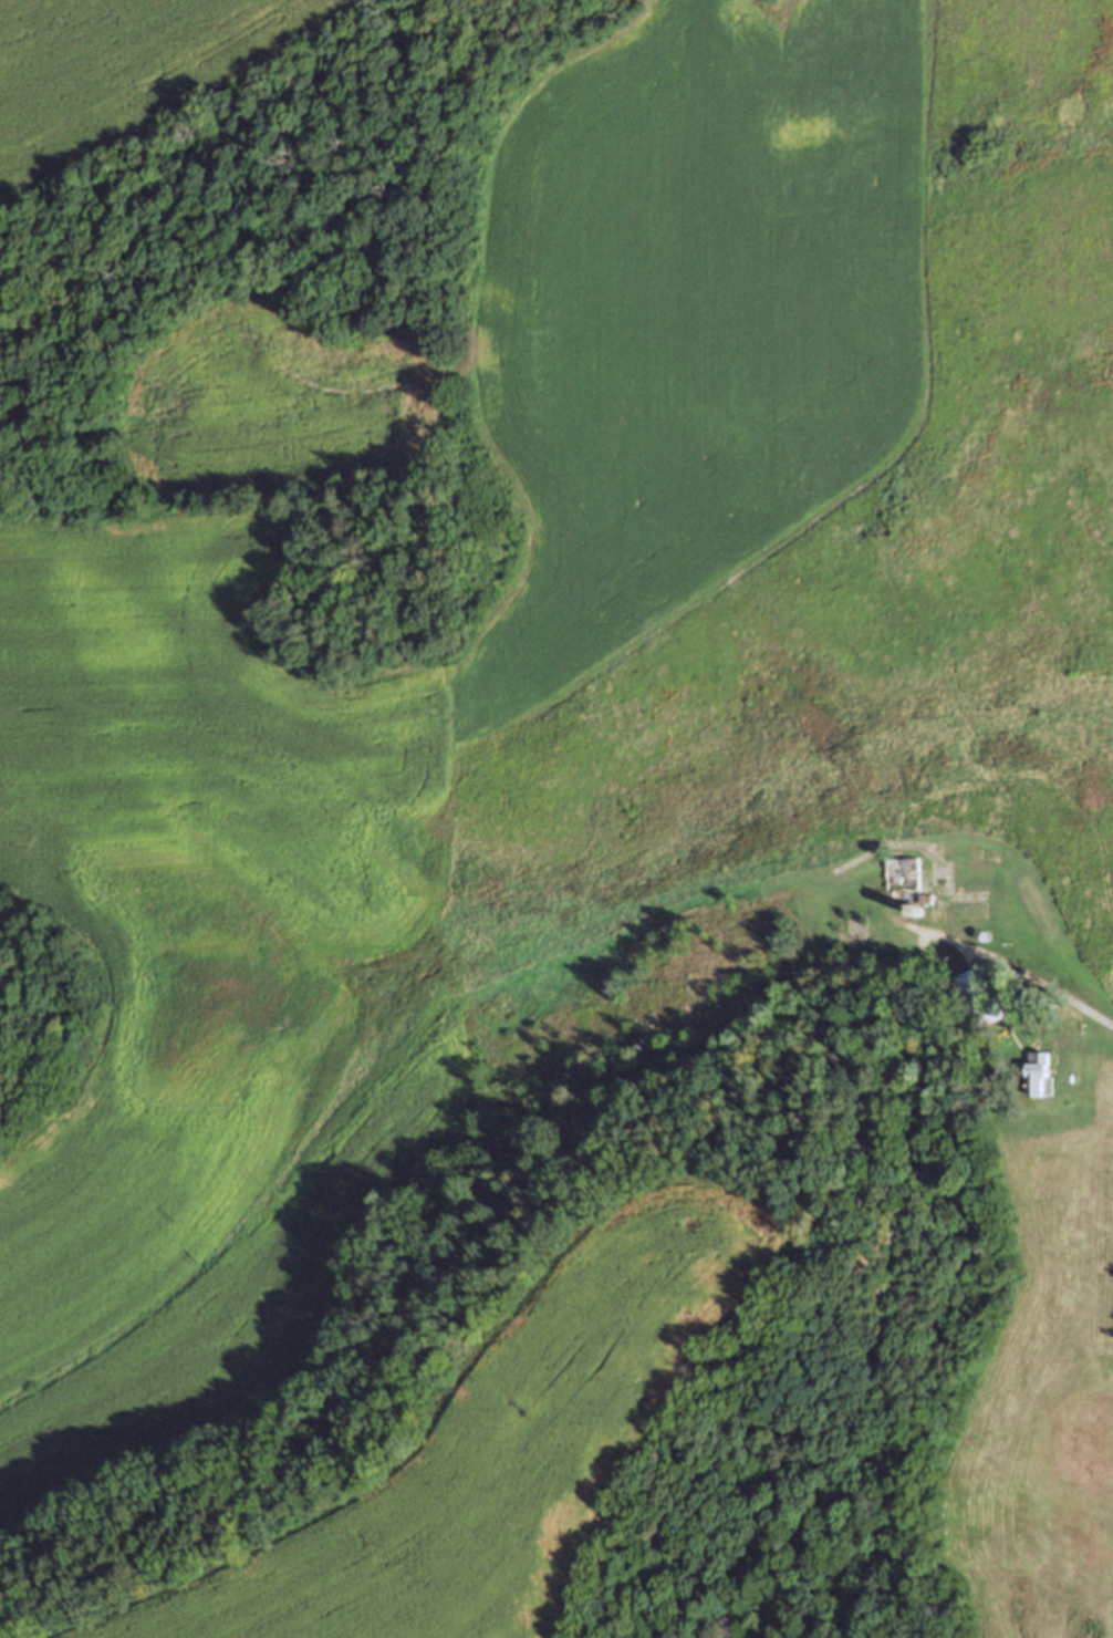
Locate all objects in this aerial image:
building: (905, 880)
building: (850, 923)
road: (1031, 975)
building: (978, 996)
building: (1036, 1072)

